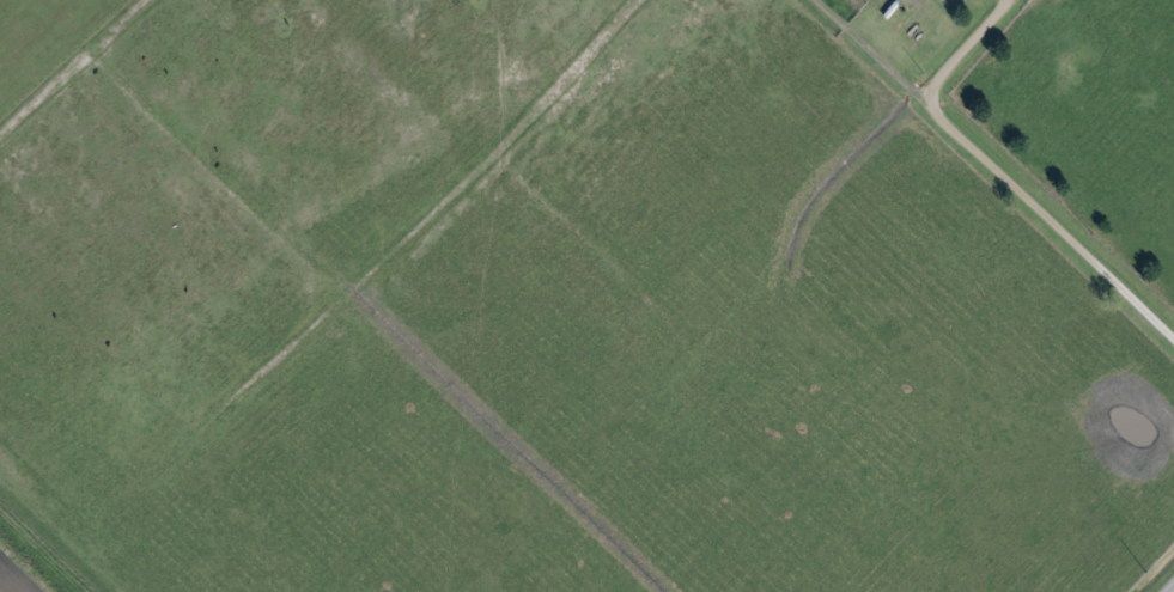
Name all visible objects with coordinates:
road: (962, 51)
road: (992, 176)

